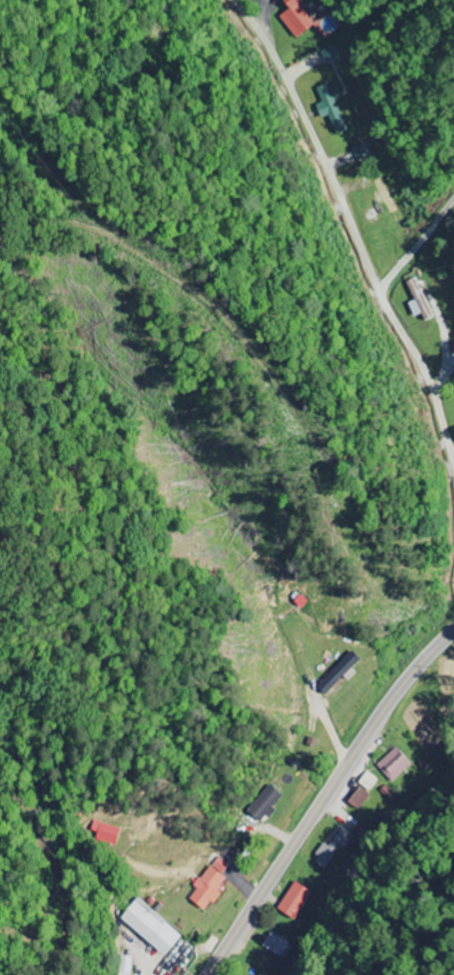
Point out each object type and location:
building: (294, 17)
building: (329, 107)
building: (360, 152)
road: (352, 226)
road: (429, 249)
building: (416, 301)
building: (340, 674)
building: (392, 765)
building: (367, 782)
road: (324, 797)
building: (357, 798)
building: (264, 805)
building: (331, 848)
building: (209, 885)
building: (293, 901)
building: (150, 927)
building: (276, 946)
building: (125, 965)

